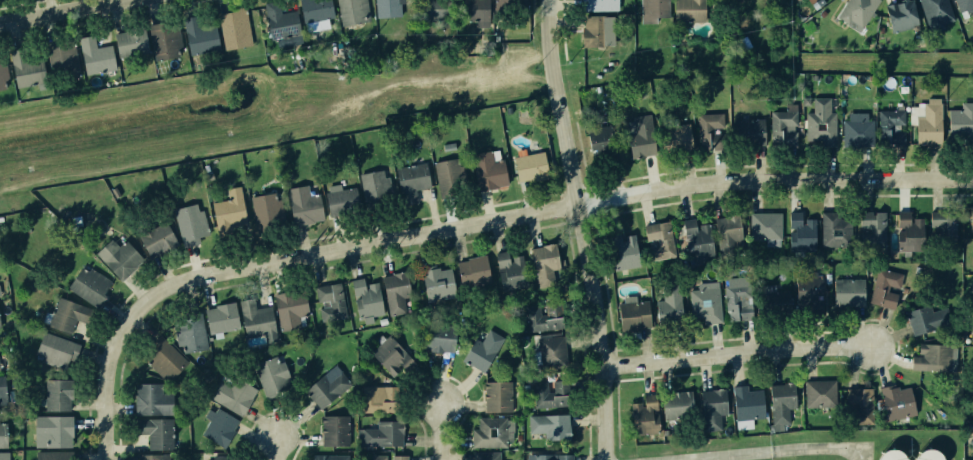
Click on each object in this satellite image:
building: (740, 0)
building: (508, 2)
building: (599, 5)
building: (963, 5)
building: (389, 7)
building: (314, 9)
building: (435, 9)
building: (474, 9)
building: (652, 9)
building: (689, 10)
road: (62, 11)
building: (353, 11)
building: (857, 11)
building: (935, 13)
building: (898, 15)
building: (282, 23)
building: (236, 30)
building: (594, 30)
building: (164, 34)
building: (131, 42)
building: (200, 42)
building: (102, 58)
building: (67, 62)
building: (33, 71)
building: (2, 73)
building: (961, 120)
building: (926, 122)
building: (819, 124)
building: (783, 126)
building: (891, 127)
building: (708, 128)
building: (856, 130)
building: (746, 131)
building: (675, 133)
building: (641, 136)
building: (596, 142)
building: (448, 145)
building: (529, 166)
building: (445, 171)
building: (485, 171)
building: (410, 180)
building: (375, 184)
building: (340, 199)
building: (301, 205)
building: (229, 209)
road: (552, 209)
building: (263, 211)
building: (972, 213)
building: (192, 224)
building: (944, 226)
building: (725, 228)
building: (764, 228)
road: (580, 229)
building: (872, 229)
building: (834, 231)
building: (909, 231)
building: (799, 232)
building: (695, 236)
building: (160, 237)
building: (656, 241)
building: (623, 251)
building: (121, 256)
building: (544, 258)
building: (509, 270)
building: (471, 271)
building: (437, 282)
building: (94, 285)
building: (884, 285)
building: (845, 290)
building: (806, 291)
building: (395, 292)
building: (0, 296)
building: (365, 298)
building: (703, 300)
building: (772, 300)
building: (329, 301)
building: (735, 303)
building: (667, 305)
building: (289, 308)
building: (631, 312)
building: (71, 314)
building: (222, 317)
building: (542, 317)
building: (1, 319)
building: (918, 319)
building: (257, 322)
building: (972, 328)
building: (192, 332)
building: (438, 337)
building: (61, 349)
building: (482, 349)
building: (551, 350)
building: (389, 355)
road: (733, 356)
building: (931, 357)
building: (166, 358)
building: (274, 373)
road: (106, 376)
building: (3, 386)
building: (327, 387)
building: (818, 392)
building: (62, 393)
building: (237, 394)
building: (498, 395)
building: (550, 395)
building: (371, 396)
building: (155, 400)
building: (972, 400)
building: (746, 402)
building: (779, 403)
building: (895, 403)
building: (672, 405)
building: (710, 406)
building: (858, 406)
building: (642, 419)
building: (550, 424)
building: (744, 424)
building: (224, 427)
building: (335, 429)
building: (58, 430)
building: (490, 431)
building: (158, 432)
road: (439, 432)
building: (4, 433)
building: (381, 435)
road: (278, 449)
road: (784, 452)
building: (885, 454)
storage tank: (885, 454)
building: (922, 454)
storage tank: (922, 454)
building: (55, 455)
building: (486, 455)
building: (5, 456)
building: (156, 457)
building: (232, 457)
building: (545, 457)
building: (332, 458)
building: (389, 458)

